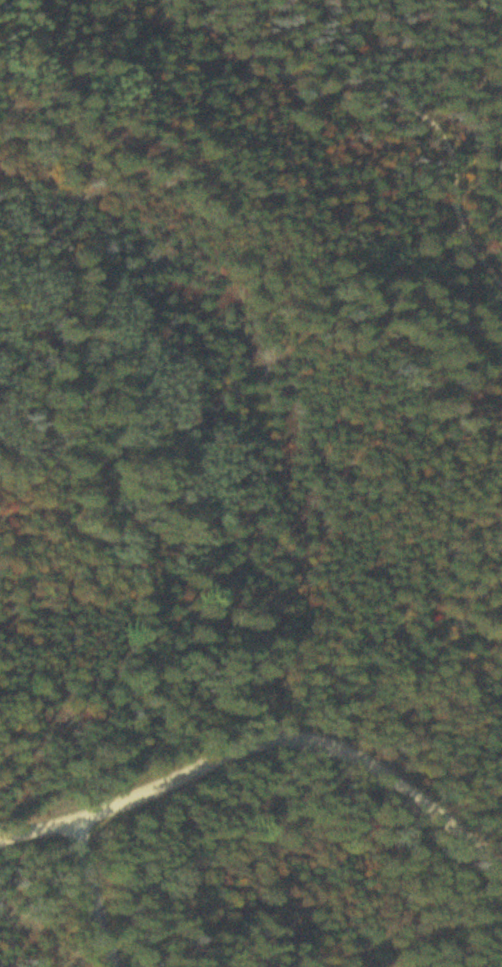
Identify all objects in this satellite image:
road: (300, 73)
road: (453, 208)
road: (259, 750)
road: (94, 900)

